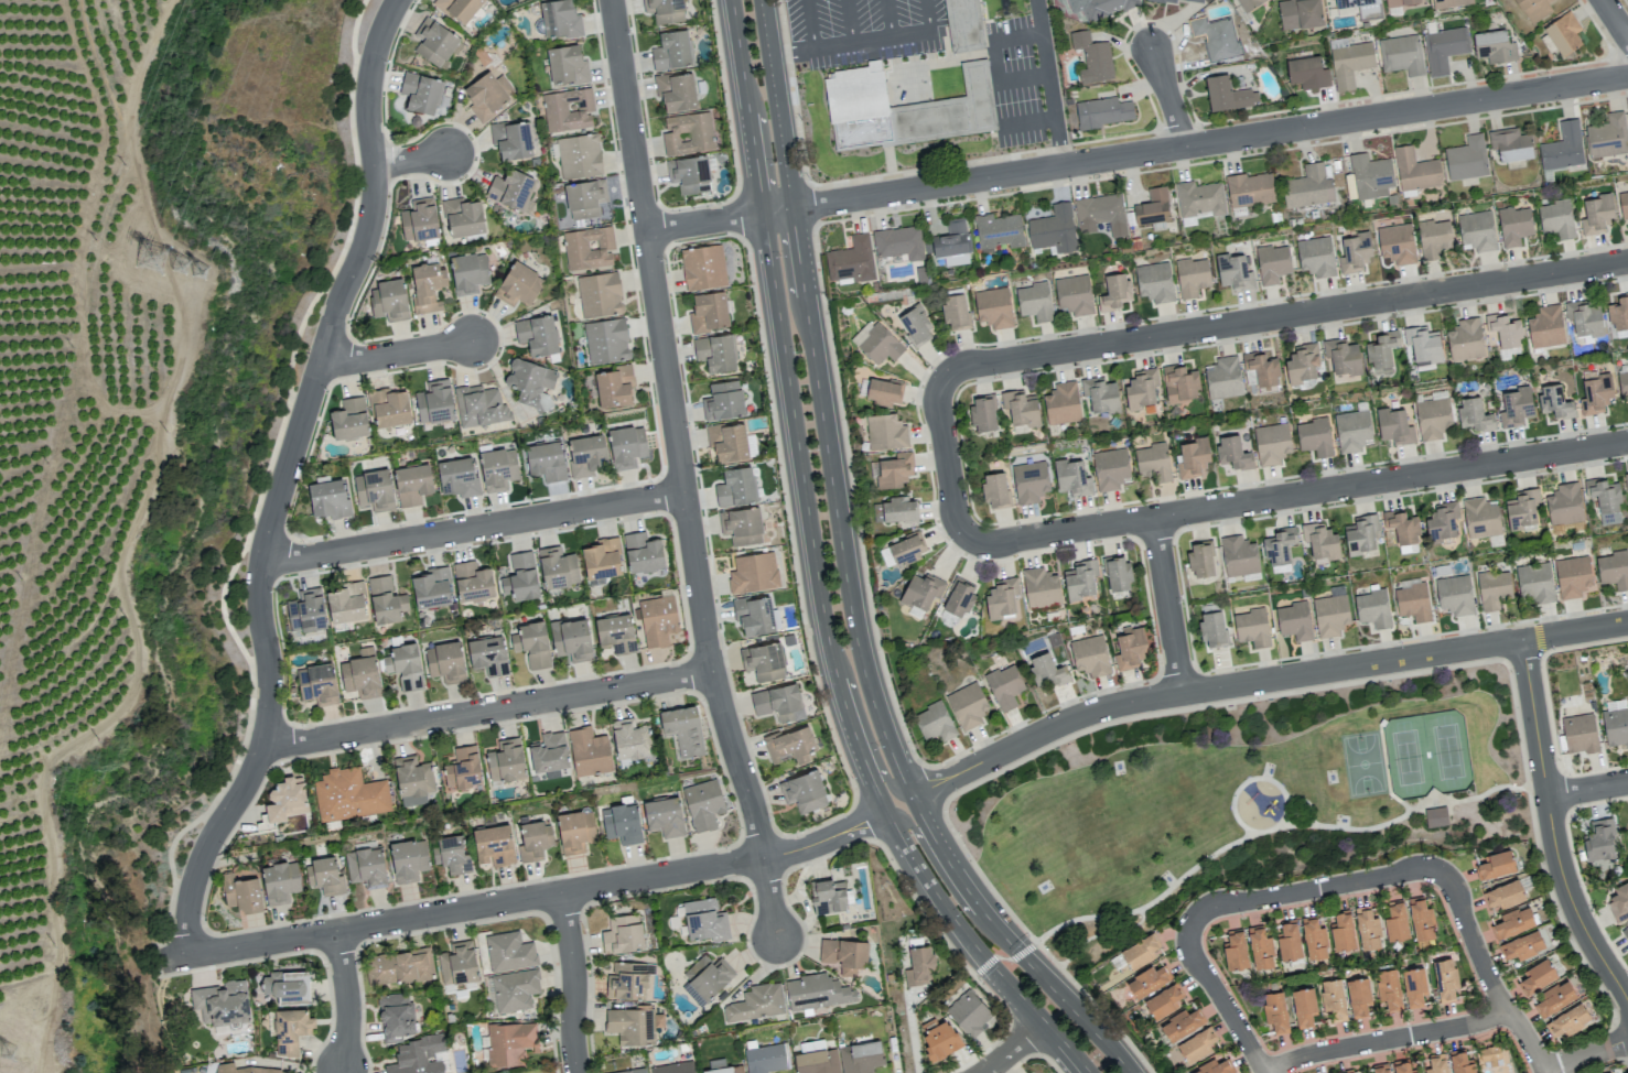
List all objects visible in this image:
building: (1175, 4)
building: (1250, 7)
building: (1356, 7)
building: (1404, 7)
building: (1453, 8)
building: (1106, 10)
building: (668, 11)
building: (461, 12)
building: (1543, 12)
road: (1615, 19)
building: (1303, 21)
road: (812, 25)
building: (562, 26)
building: (966, 29)
road: (890, 37)
building: (1566, 43)
building: (1218, 46)
building: (438, 50)
building: (677, 52)
road: (794, 54)
building: (1498, 56)
building: (1444, 57)
building: (481, 63)
building: (1402, 63)
building: (1093, 67)
building: (569, 73)
building: (1350, 73)
road: (1049, 82)
building: (1309, 82)
building: (680, 93)
road: (1167, 96)
road: (724, 97)
building: (422, 101)
building: (1230, 102)
road: (777, 104)
building: (488, 105)
road: (746, 106)
building: (568, 118)
building: (905, 118)
building: (1104, 121)
building: (690, 136)
building: (1607, 137)
building: (514, 147)
building: (1511, 147)
building: (1562, 147)
road: (1136, 152)
road: (410, 158)
building: (1467, 159)
building: (581, 164)
building: (1415, 170)
building: (694, 175)
building: (1370, 176)
building: (1308, 186)
building: (1250, 189)
building: (514, 198)
building: (1199, 199)
building: (1624, 204)
building: (586, 207)
building: (1153, 207)
building: (1100, 214)
building: (1596, 214)
building: (1556, 218)
building: (464, 225)
building: (1513, 225)
building: (423, 228)
building: (1053, 229)
building: (998, 230)
building: (1477, 231)
building: (1433, 238)
building: (898, 242)
building: (951, 243)
building: (1397, 243)
building: (589, 248)
building: (1355, 252)
building: (1316, 256)
power tower: (157, 259)
building: (851, 260)
building: (1272, 263)
power tower: (181, 265)
building: (1233, 271)
building: (468, 272)
power tower: (203, 273)
building: (705, 274)
building: (1192, 277)
building: (1154, 282)
building: (427, 285)
building: (518, 285)
building: (1114, 292)
building: (600, 294)
building: (1074, 295)
building: (389, 300)
building: (1034, 301)
building: (993, 307)
building: (955, 312)
building: (1619, 313)
building: (1584, 317)
road: (1285, 318)
building: (711, 321)
building: (916, 325)
building: (1545, 326)
building: (1505, 330)
building: (537, 335)
building: (1465, 339)
building: (606, 340)
building: (880, 345)
building: (1423, 345)
building: (1381, 349)
road: (396, 351)
building: (1341, 356)
building: (718, 360)
building: (1302, 362)
building: (1260, 369)
building: (1223, 378)
building: (1622, 382)
building: (530, 383)
building: (1179, 383)
building: (614, 387)
building: (1141, 388)
building: (883, 391)
building: (1100, 394)
building: (1595, 394)
building: (723, 401)
building: (1554, 401)
building: (434, 402)
building: (1061, 403)
building: (479, 405)
building: (1516, 407)
building: (389, 408)
building: (1020, 408)
building: (982, 413)
building: (1473, 414)
building: (1433, 418)
building: (349, 419)
building: (1394, 426)
road: (673, 431)
building: (1352, 431)
building: (886, 432)
building: (1314, 436)
building: (727, 442)
building: (1271, 443)
building: (626, 445)
building: (1232, 453)
building: (585, 455)
building: (1193, 457)
building: (546, 460)
building: (1153, 462)
road: (950, 464)
building: (498, 468)
building: (1110, 468)
building: (893, 470)
road: (281, 477)
building: (457, 477)
building: (1072, 477)
building: (1626, 480)
building: (1029, 481)
building: (412, 484)
building: (735, 487)
road: (261, 489)
building: (994, 489)
building: (373, 490)
road: (1301, 496)
building: (328, 498)
building: (1606, 499)
building: (1564, 503)
road: (835, 506)
building: (1522, 509)
building: (898, 510)
road: (808, 514)
building: (1480, 518)
building: (1442, 521)
road: (471, 525)
building: (741, 525)
building: (1402, 527)
building: (1361, 533)
building: (1320, 541)
building: (1279, 549)
building: (1408, 549)
building: (902, 551)
building: (643, 552)
building: (1239, 555)
park: (238, 557)
building: (601, 559)
building: (1200, 559)
building: (557, 567)
building: (1614, 570)
building: (753, 573)
building: (1117, 573)
building: (1573, 576)
building: (520, 577)
building: (1080, 579)
building: (472, 582)
building: (1535, 582)
building: (431, 587)
building: (1041, 587)
building: (1494, 588)
building: (921, 590)
building: (1454, 595)
building: (959, 597)
building: (1002, 598)
building: (386, 600)
building: (1413, 600)
building: (346, 603)
road: (1168, 605)
building: (1372, 608)
building: (305, 610)
building: (754, 615)
building: (1330, 615)
building: (658, 620)
building: (1294, 620)
building: (1251, 627)
building: (1212, 629)
building: (615, 633)
building: (571, 639)
building: (531, 643)
building: (1130, 648)
building: (488, 655)
building: (1090, 655)
building: (763, 661)
building: (445, 662)
building: (405, 665)
building: (1045, 671)
building: (359, 676)
road: (1261, 679)
building: (317, 684)
building: (1004, 686)
building: (778, 703)
building: (967, 705)
road: (487, 708)
building: (934, 722)
building: (1616, 726)
building: (683, 729)
building: (1580, 733)
road: (869, 736)
building: (630, 740)
building: (790, 745)
park: (1427, 750)
building: (589, 751)
building: (549, 752)
building: (506, 760)
park: (1361, 761)
building: (462, 768)
building: (412, 780)
road: (1587, 788)
building: (804, 791)
park: (1260, 791)
building: (348, 794)
building: (285, 799)
building: (703, 804)
building: (664, 816)
building: (1435, 816)
building: (622, 823)
road: (1271, 828)
road: (1551, 828)
building: (575, 831)
building: (1599, 839)
building: (533, 841)
building: (494, 845)
building: (450, 854)
building: (408, 859)
building: (1496, 865)
building: (366, 867)
road: (936, 868)
building: (324, 876)
building: (279, 881)
road: (1313, 889)
building: (241, 892)
building: (1505, 895)
road: (768, 896)
building: (828, 896)
road: (527, 897)
building: (1619, 902)
building: (1421, 919)
building: (704, 920)
building: (1395, 922)
building: (1513, 922)
building: (1367, 928)
building: (1343, 930)
building: (623, 934)
building: (1626, 934)
building: (1314, 937)
building: (1289, 941)
road: (1010, 942)
building: (1522, 945)
road: (975, 947)
building: (1260, 947)
building: (1235, 950)
building: (509, 951)
building: (1139, 952)
building: (843, 955)
building: (457, 963)
building: (919, 965)
building: (399, 966)
road: (1486, 972)
building: (1537, 976)
building: (705, 978)
building: (1445, 978)
building: (1147, 980)
road: (573, 982)
building: (625, 983)
building: (287, 986)
building: (1414, 986)
building: (1389, 988)
building: (515, 989)
building: (816, 991)
building: (1358, 996)
road: (1220, 997)
building: (1333, 998)
road: (345, 999)
building: (1553, 999)
building: (1162, 1001)
building: (756, 1002)
building: (220, 1004)
building: (1303, 1006)
power tower: (41, 1010)
building: (1275, 1011)
building: (969, 1012)
building: (396, 1016)
building: (1567, 1020)
building: (1182, 1023)
building: (633, 1025)
building: (290, 1029)
building: (939, 1038)
road: (1386, 1040)
building: (509, 1043)
building: (1195, 1044)
building: (810, 1045)
road: (1011, 1048)
building: (1490, 1054)
power tower: (9, 1055)
building: (418, 1055)
road: (1586, 1055)
building: (860, 1056)
building: (766, 1058)
building: (817, 1061)
building: (1460, 1062)
building: (1436, 1064)
building: (1401, 1066)
building: (274, 1067)
building: (675, 1067)
building: (1214, 1067)
building: (1379, 1069)
building: (726, 1070)
building: (632, 1071)
building: (1348, 1072)

